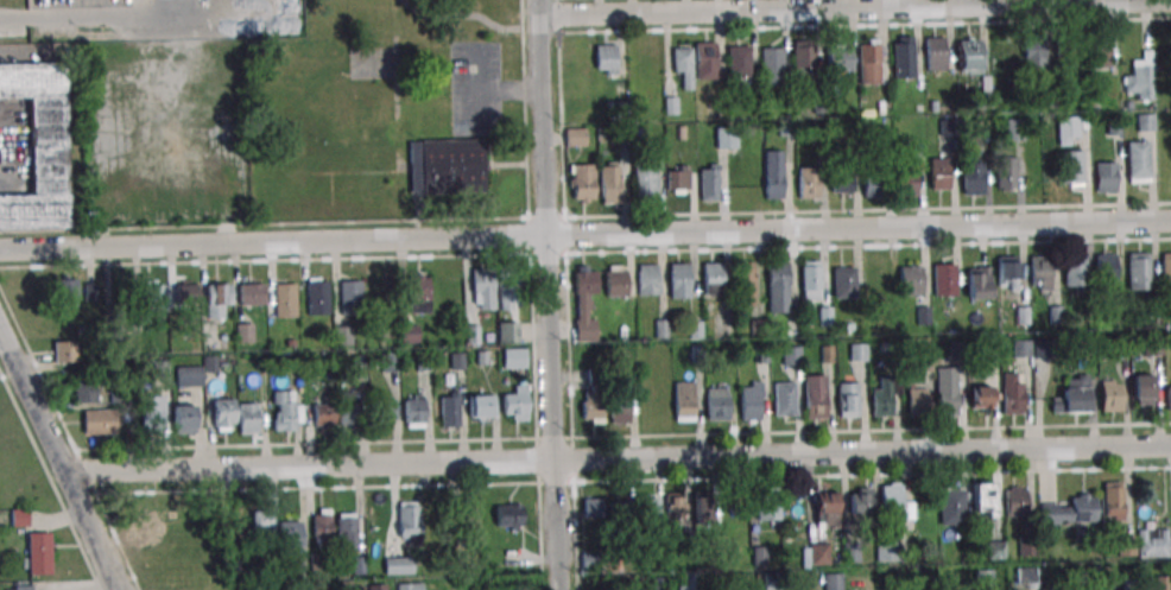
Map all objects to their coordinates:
road: (825, 7)
park: (401, 14)
road: (108, 17)
building: (1066, 47)
building: (933, 52)
building: (1034, 52)
building: (1099, 53)
building: (969, 56)
building: (838, 58)
building: (901, 58)
building: (606, 59)
building: (705, 61)
building: (740, 61)
building: (803, 61)
building: (868, 62)
building: (772, 65)
building: (682, 69)
building: (1139, 78)
building: (1145, 122)
building: (1014, 129)
building: (1068, 129)
building: (576, 138)
building: (39, 146)
building: (1137, 161)
building: (1070, 166)
building: (448, 167)
building: (937, 172)
building: (772, 173)
building: (1005, 173)
building: (970, 177)
building: (1104, 177)
building: (641, 179)
building: (677, 179)
building: (904, 179)
building: (840, 180)
building: (872, 180)
building: (581, 182)
building: (806, 182)
building: (707, 184)
building: (607, 186)
road: (585, 234)
building: (1137, 267)
building: (1072, 268)
building: (1104, 268)
building: (1165, 268)
building: (1039, 271)
building: (1007, 272)
building: (876, 273)
building: (809, 275)
building: (742, 277)
building: (776, 277)
building: (677, 278)
building: (710, 278)
building: (645, 279)
building: (942, 279)
building: (615, 280)
building: (910, 280)
building: (843, 281)
building: (977, 281)
building: (482, 288)
building: (65, 291)
building: (252, 293)
building: (420, 293)
building: (506, 294)
road: (551, 294)
building: (153, 296)
building: (186, 296)
building: (317, 297)
building: (350, 298)
building: (217, 299)
building: (285, 299)
building: (584, 303)
building: (507, 331)
building: (409, 334)
building: (343, 335)
building: (1020, 349)
building: (64, 351)
building: (857, 353)
building: (791, 355)
building: (514, 359)
building: (189, 376)
building: (84, 389)
building: (1142, 389)
building: (947, 391)
building: (1012, 393)
building: (1169, 394)
building: (884, 395)
building: (1110, 395)
building: (815, 396)
building: (1072, 396)
building: (980, 398)
building: (784, 399)
building: (847, 399)
building: (751, 400)
building: (683, 401)
building: (917, 401)
building: (515, 404)
building: (717, 404)
building: (618, 405)
building: (593, 406)
building: (482, 407)
building: (286, 408)
building: (450, 408)
building: (386, 410)
building: (152, 412)
building: (414, 412)
building: (323, 413)
building: (223, 414)
building: (348, 414)
building: (184, 418)
building: (248, 418)
building: (99, 421)
road: (620, 458)
road: (63, 459)
building: (983, 499)
building: (1015, 501)
building: (1112, 501)
building: (860, 502)
building: (766, 503)
building: (673, 506)
building: (894, 506)
building: (591, 508)
building: (825, 508)
building: (645, 510)
building: (714, 510)
building: (954, 510)
building: (1070, 510)
building: (614, 513)
building: (507, 516)
building: (19, 519)
building: (410, 519)
building: (258, 522)
building: (468, 524)
building: (322, 526)
building: (289, 531)
building: (346, 532)
building: (1153, 543)
building: (886, 551)
building: (38, 553)
building: (818, 553)
building: (398, 565)
building: (833, 581)
building: (410, 585)
building: (376, 586)
building: (23, 588)

